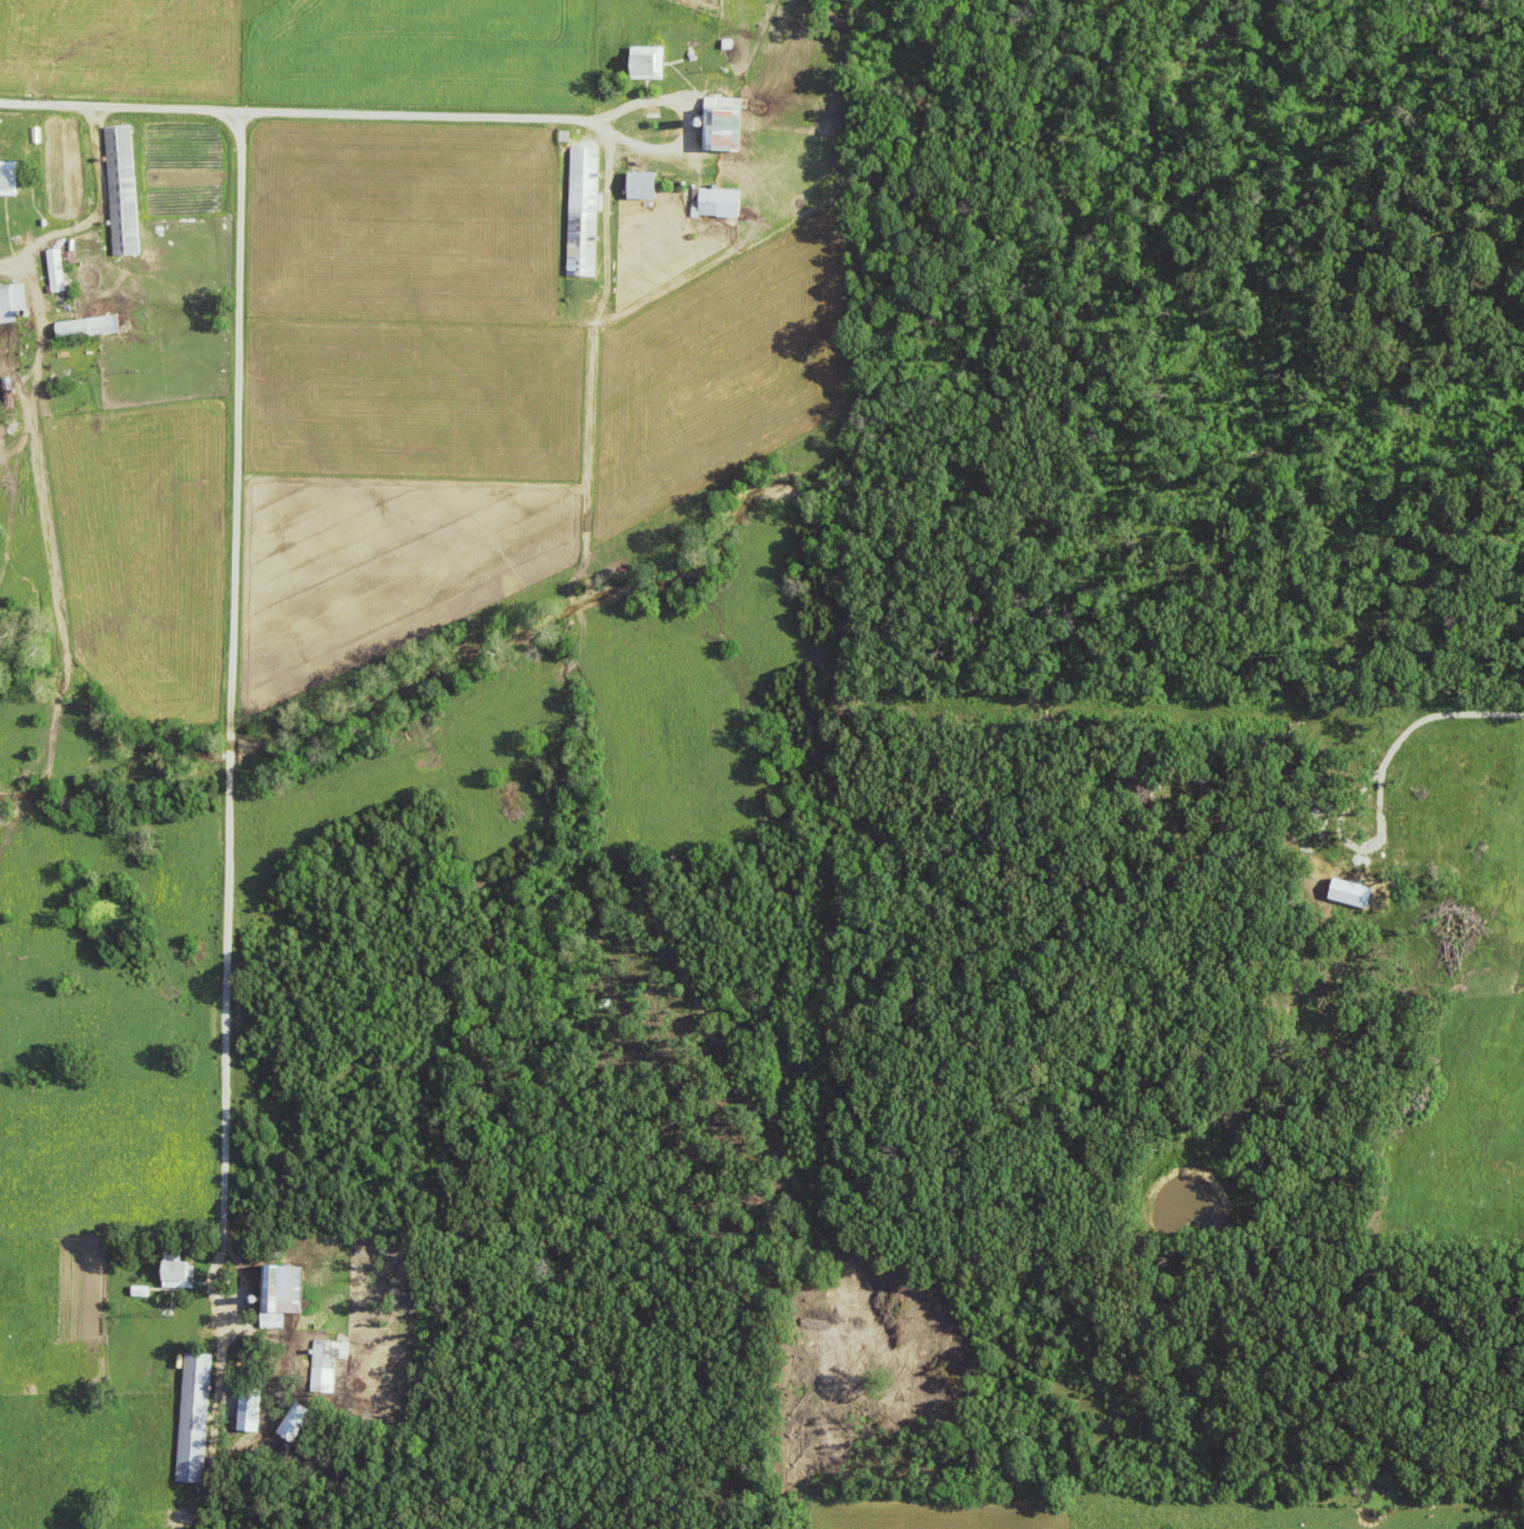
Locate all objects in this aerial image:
building: (647, 63)
road: (296, 112)
building: (722, 124)
road: (689, 129)
building: (7, 176)
building: (641, 186)
building: (121, 191)
building: (719, 203)
building: (583, 211)
road: (97, 214)
building: (56, 271)
road: (40, 300)
building: (12, 303)
building: (88, 328)
road: (231, 669)
building: (176, 1272)
building: (281, 1293)
building: (329, 1354)
building: (249, 1412)
building: (193, 1418)
building: (292, 1427)

